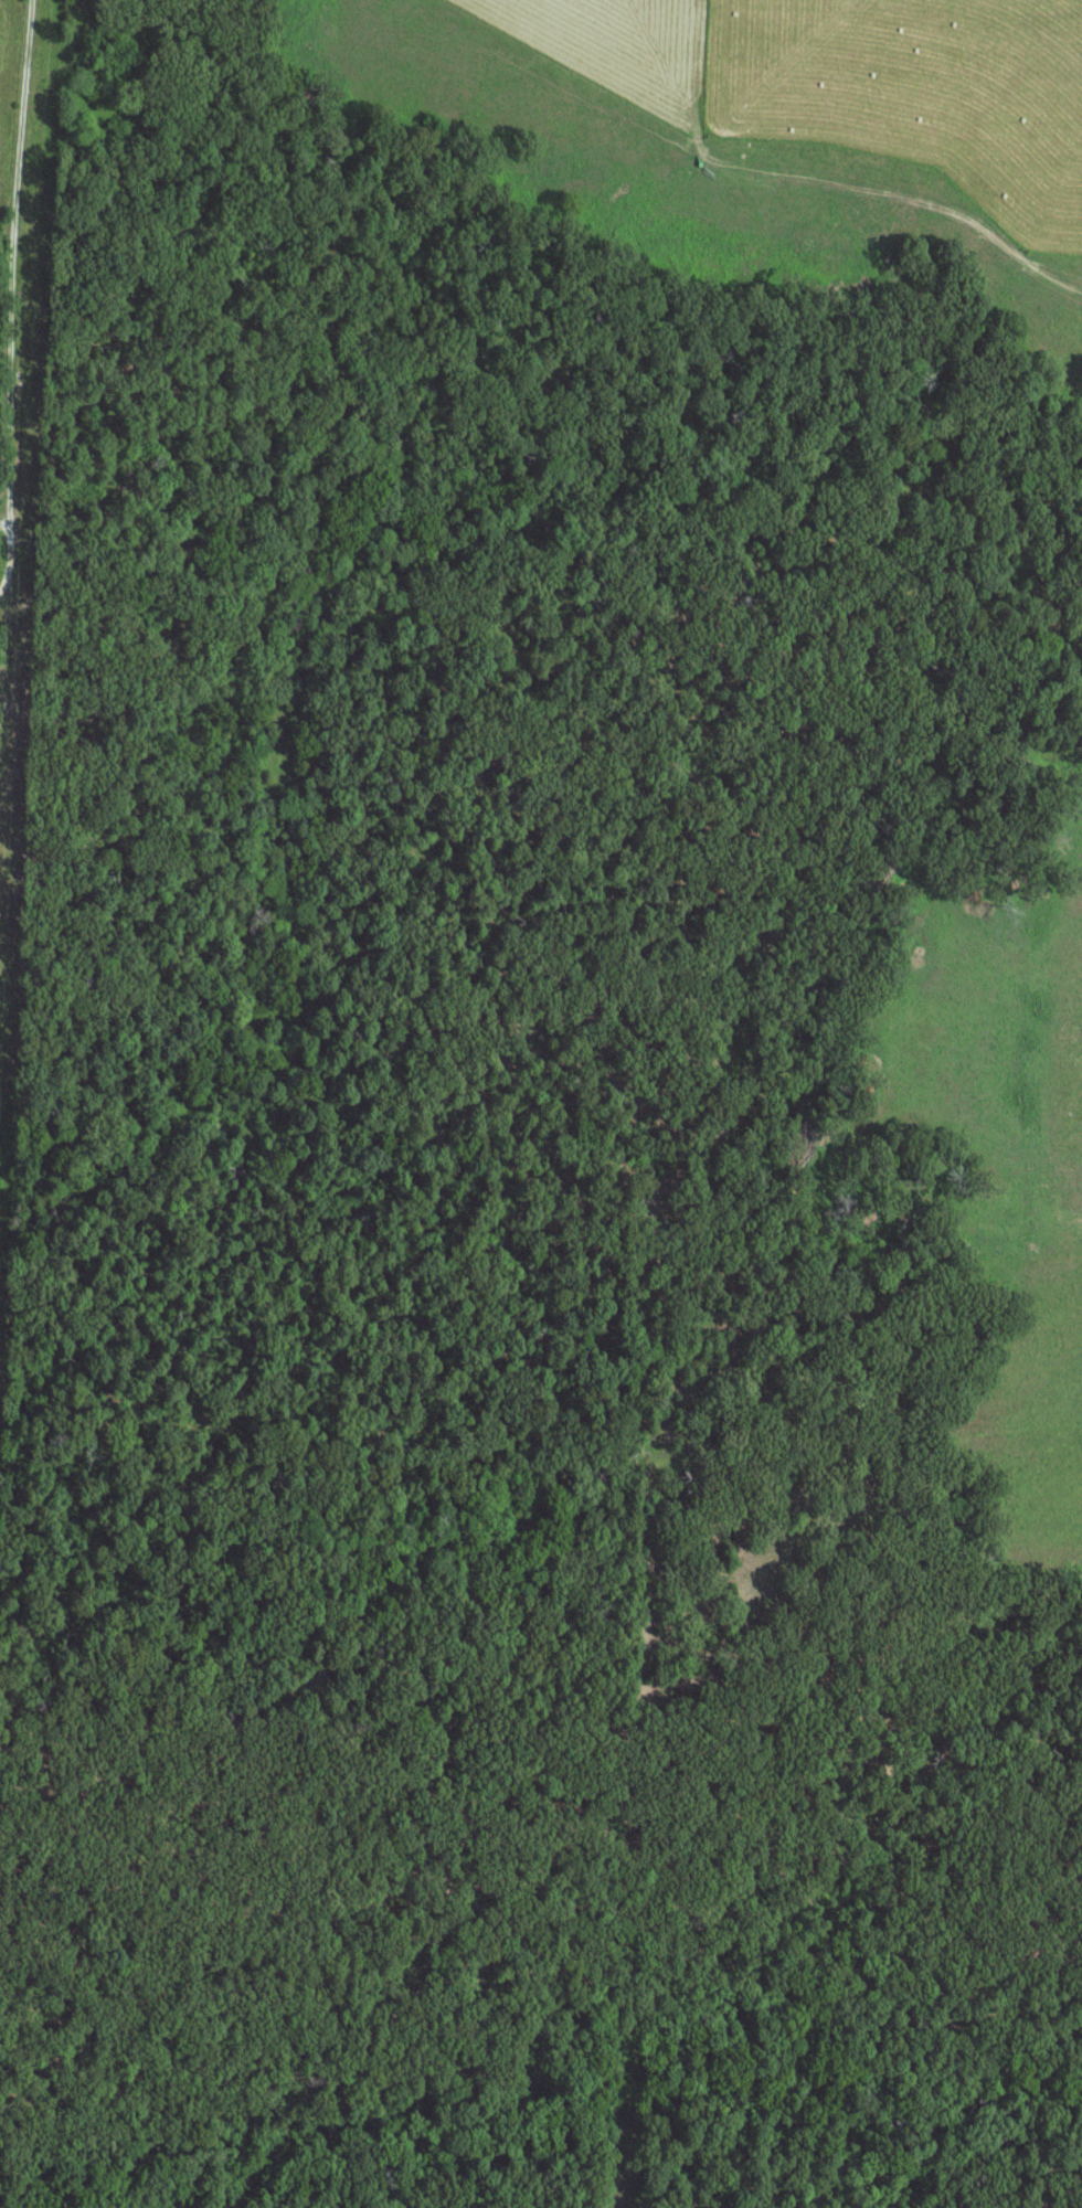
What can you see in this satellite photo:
road: (15, 583)
road: (8, 592)
building: (1, 1773)

